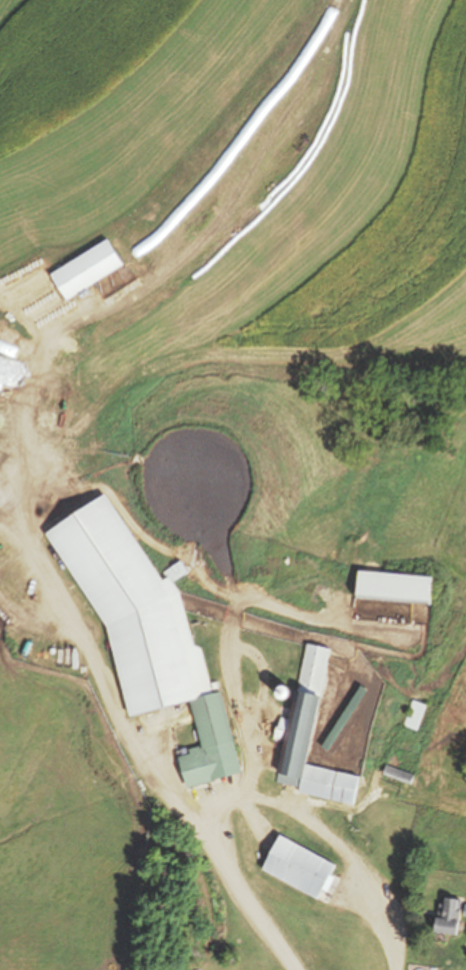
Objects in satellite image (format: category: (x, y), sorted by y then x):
building: (86, 270)
building: (394, 586)
building: (146, 632)
building: (415, 716)
building: (311, 737)
building: (399, 775)
road: (267, 793)
building: (298, 868)
building: (448, 916)

